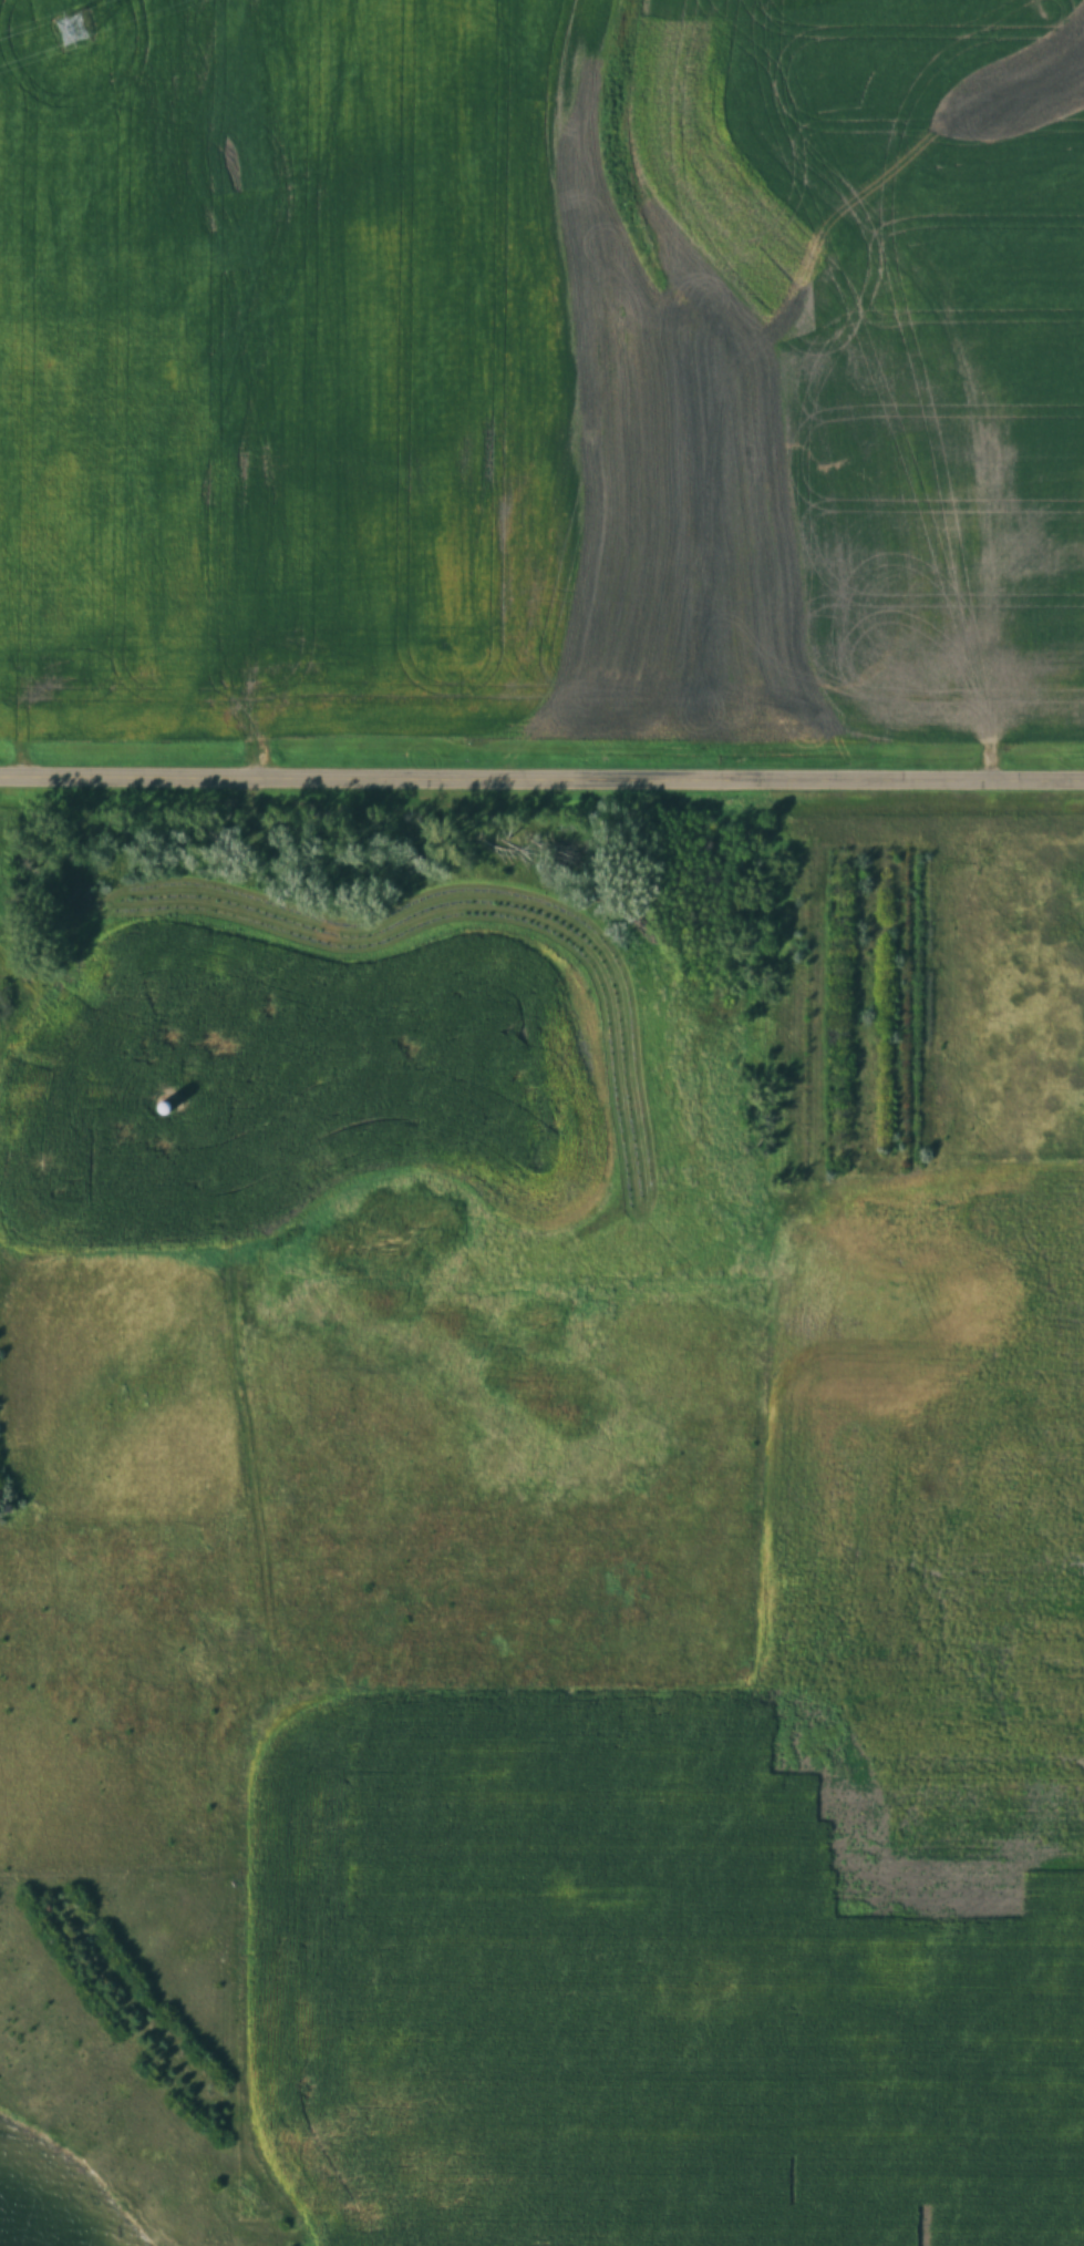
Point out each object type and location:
power tower: (72, 28)
road: (541, 777)
building: (300, 1079)
building: (13, 1101)

